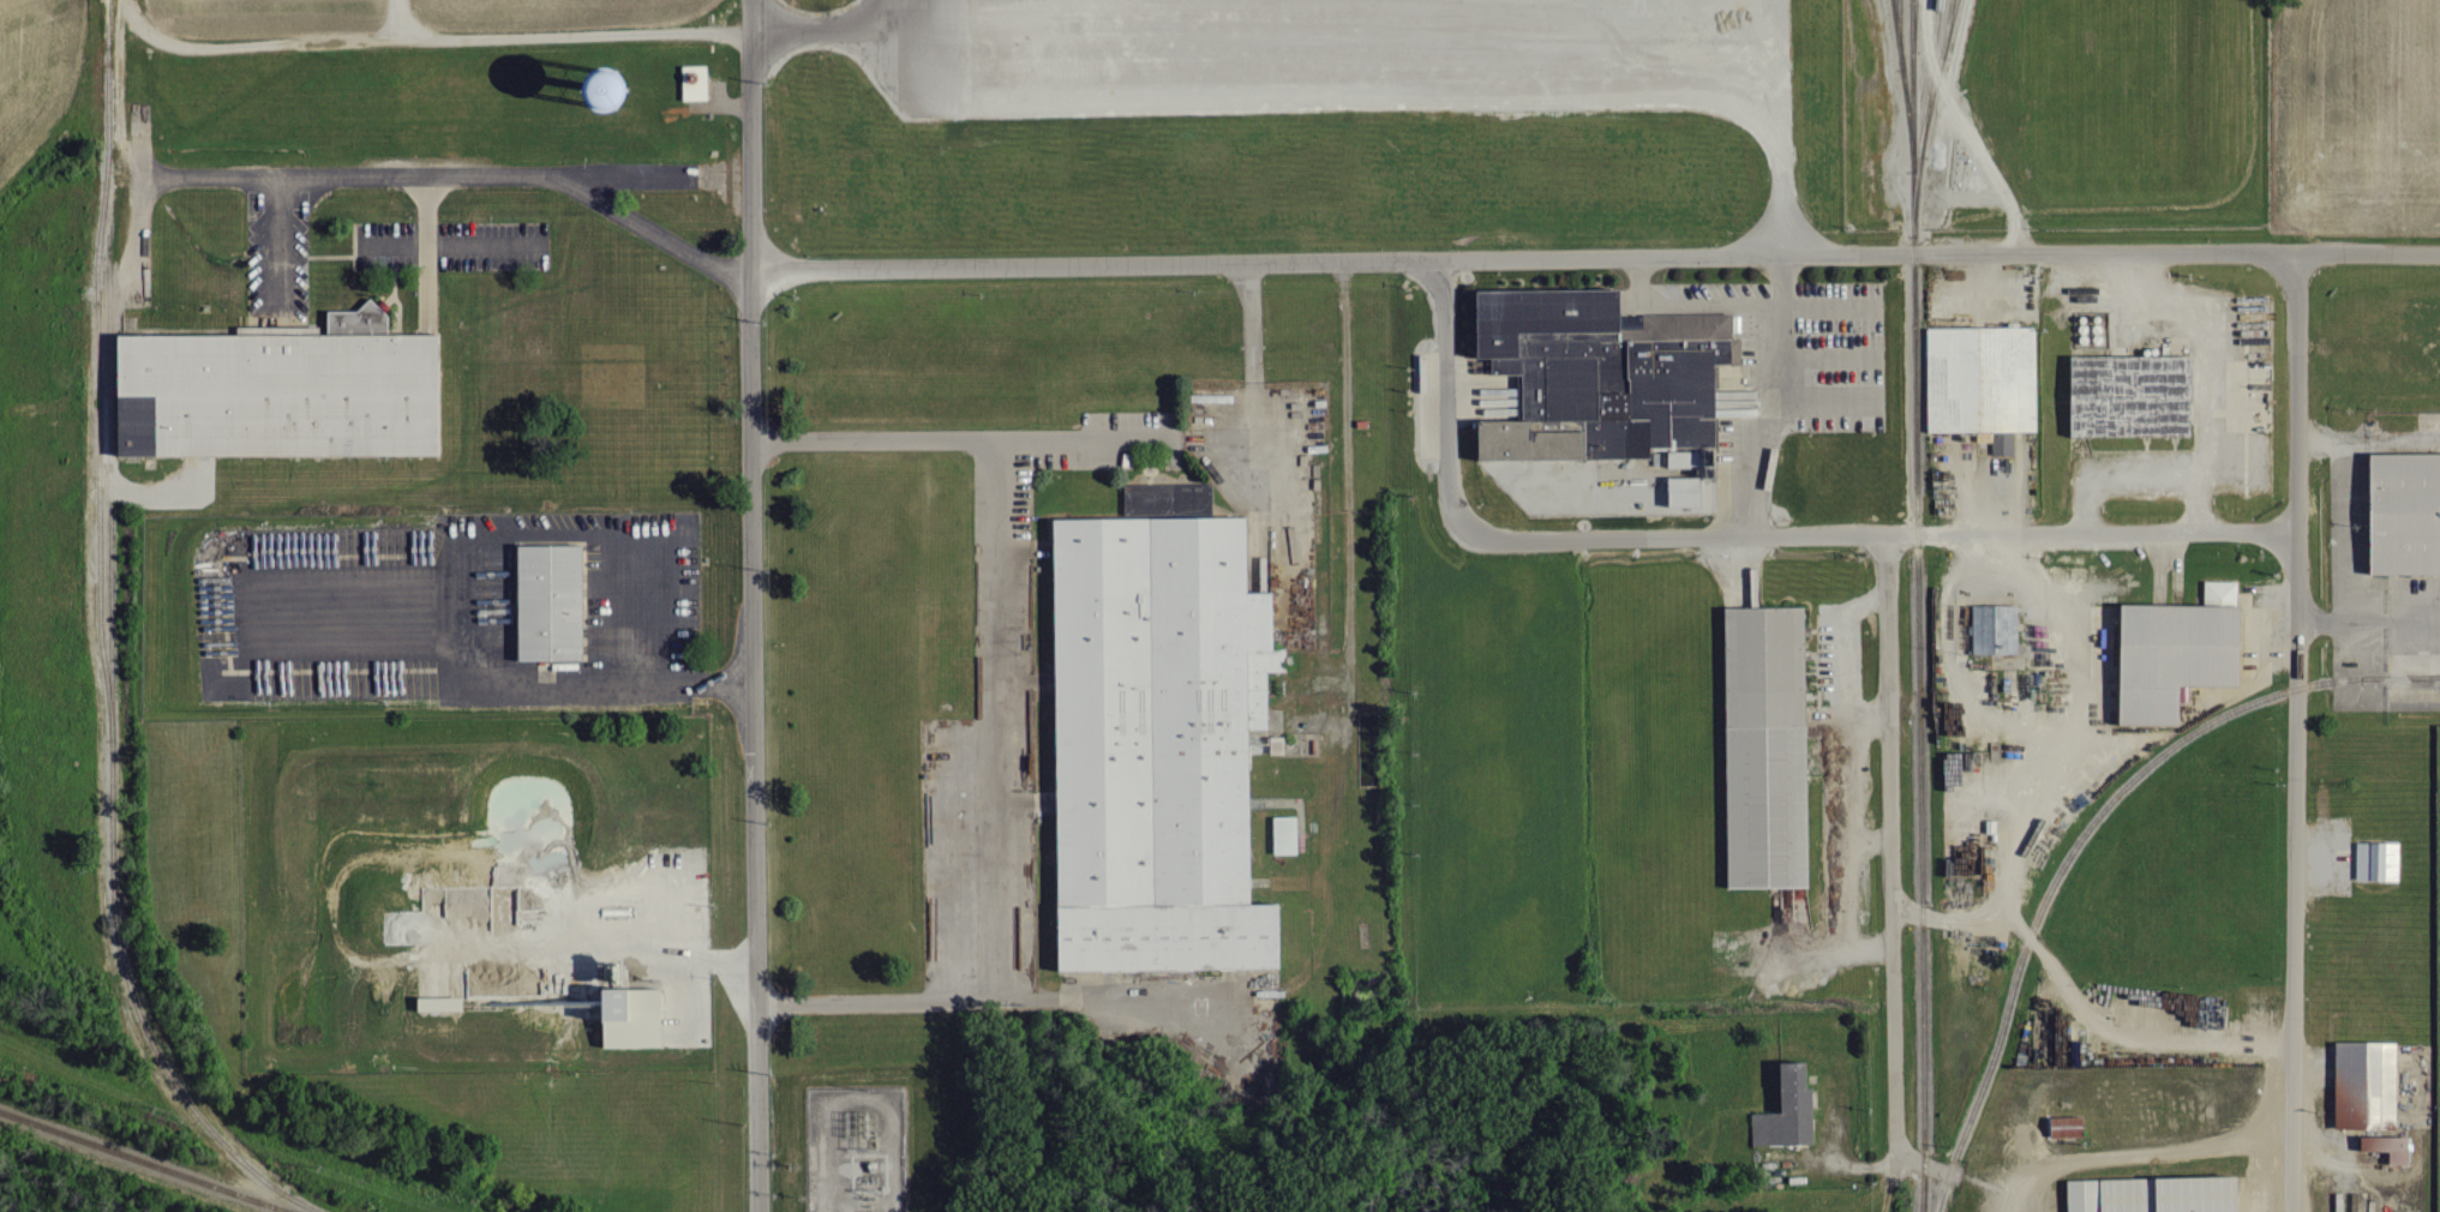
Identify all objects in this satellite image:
railway: (1912, 10)
road: (398, 20)
railway: (1898, 24)
road: (816, 31)
road: (425, 41)
road: (1404, 43)
railway: (1902, 78)
building: (696, 84)
water tower: (602, 88)
road: (750, 133)
road: (414, 174)
road: (284, 179)
road: (426, 197)
road: (649, 228)
road: (354, 245)
road: (426, 245)
parking lot: (450, 245)
parking lot: (277, 252)
road: (283, 254)
road: (330, 254)
road: (2367, 254)
road: (1522, 257)
road: (426, 300)
road: (1252, 323)
road: (2202, 372)
building: (1597, 376)
building: (1979, 382)
road: (2295, 391)
building: (277, 392)
road: (1769, 392)
building: (2127, 395)
road: (1150, 434)
road: (977, 437)
road: (855, 438)
road: (2118, 476)
building: (1687, 492)
road: (2344, 504)
building: (2404, 511)
road: (2081, 532)
parking lot: (637, 588)
railway: (1917, 588)
building: (544, 601)
road: (461, 608)
parking lot: (318, 610)
road: (2368, 619)
building: (1991, 626)
railway: (101, 644)
road: (631, 648)
building: (2174, 650)
railway: (2406, 677)
railway: (2406, 679)
parking lot: (1002, 680)
road: (725, 683)
building: (1156, 733)
road: (2057, 738)
road: (754, 739)
building: (1762, 745)
road: (996, 756)
building: (1287, 835)
building: (2373, 859)
railway: (2066, 862)
building: (1020, 869)
road: (1892, 875)
wastewater plant: (491, 893)
building: (491, 935)
road: (623, 954)
road: (838, 1001)
building: (642, 1003)
building: (440, 1006)
building: (2361, 1076)
building: (1786, 1110)
building: (2062, 1126)
building: (2386, 1146)
power substation: (855, 1148)
road: (2142, 1154)
railway: (143, 1162)
railway: (1920, 1194)
railway: (1923, 1194)
building: (2152, 1194)

